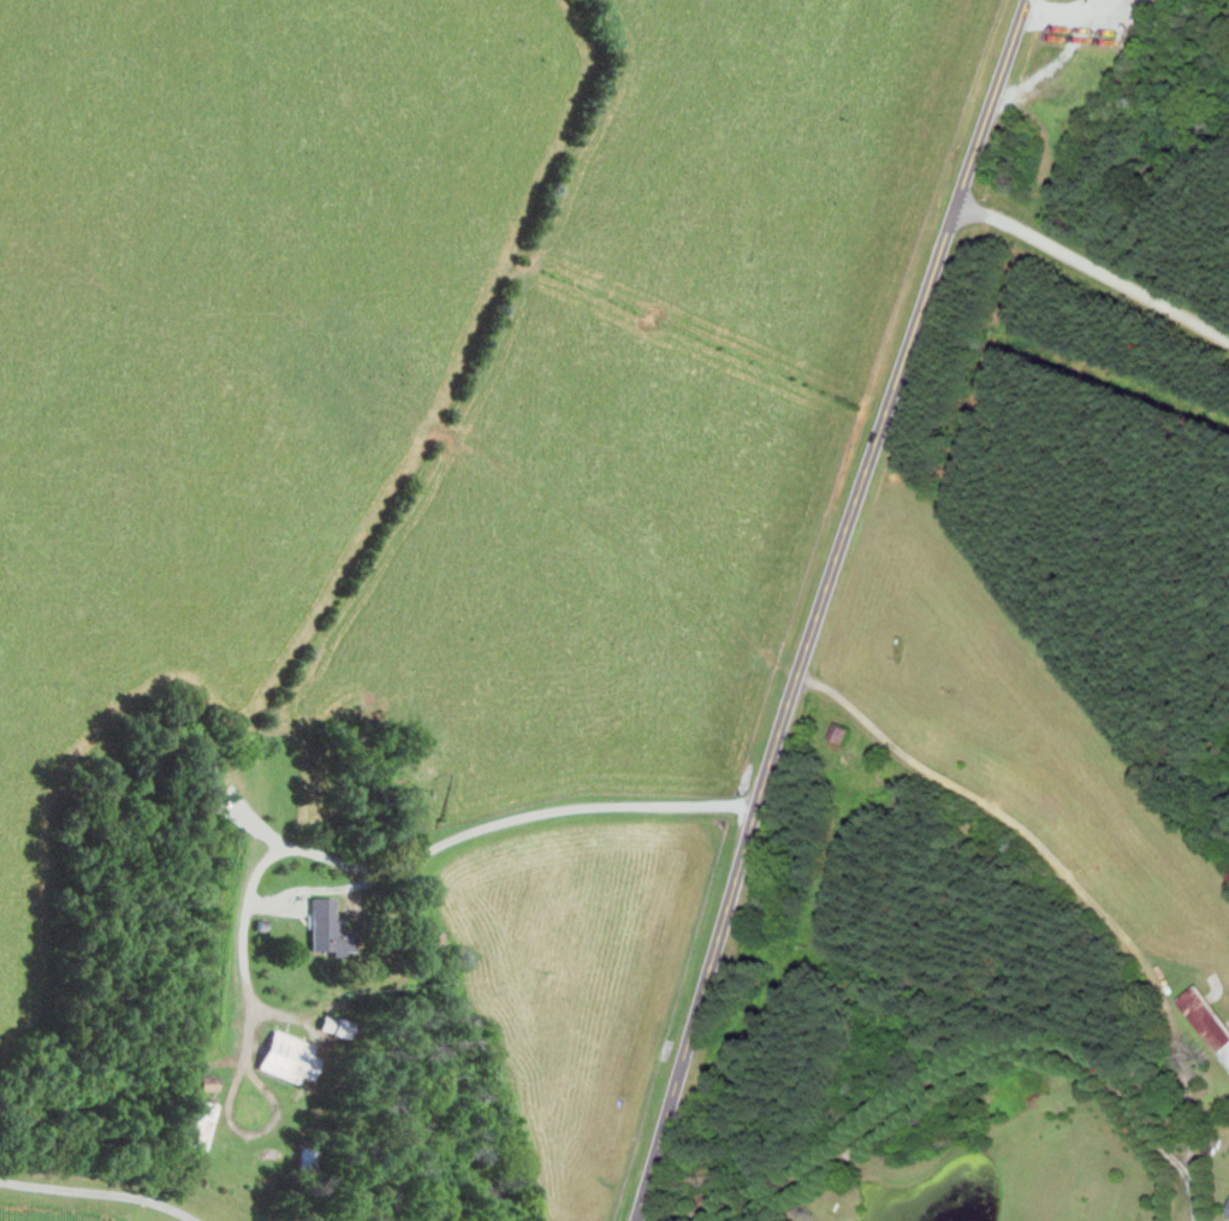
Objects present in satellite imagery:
road: (1092, 263)
road: (819, 606)
airport runway: (1067, 722)
building: (842, 734)
road: (414, 859)
building: (328, 926)
building: (1209, 1016)
building: (285, 1054)
building: (208, 1081)
building: (197, 1122)
road: (1191, 1158)

